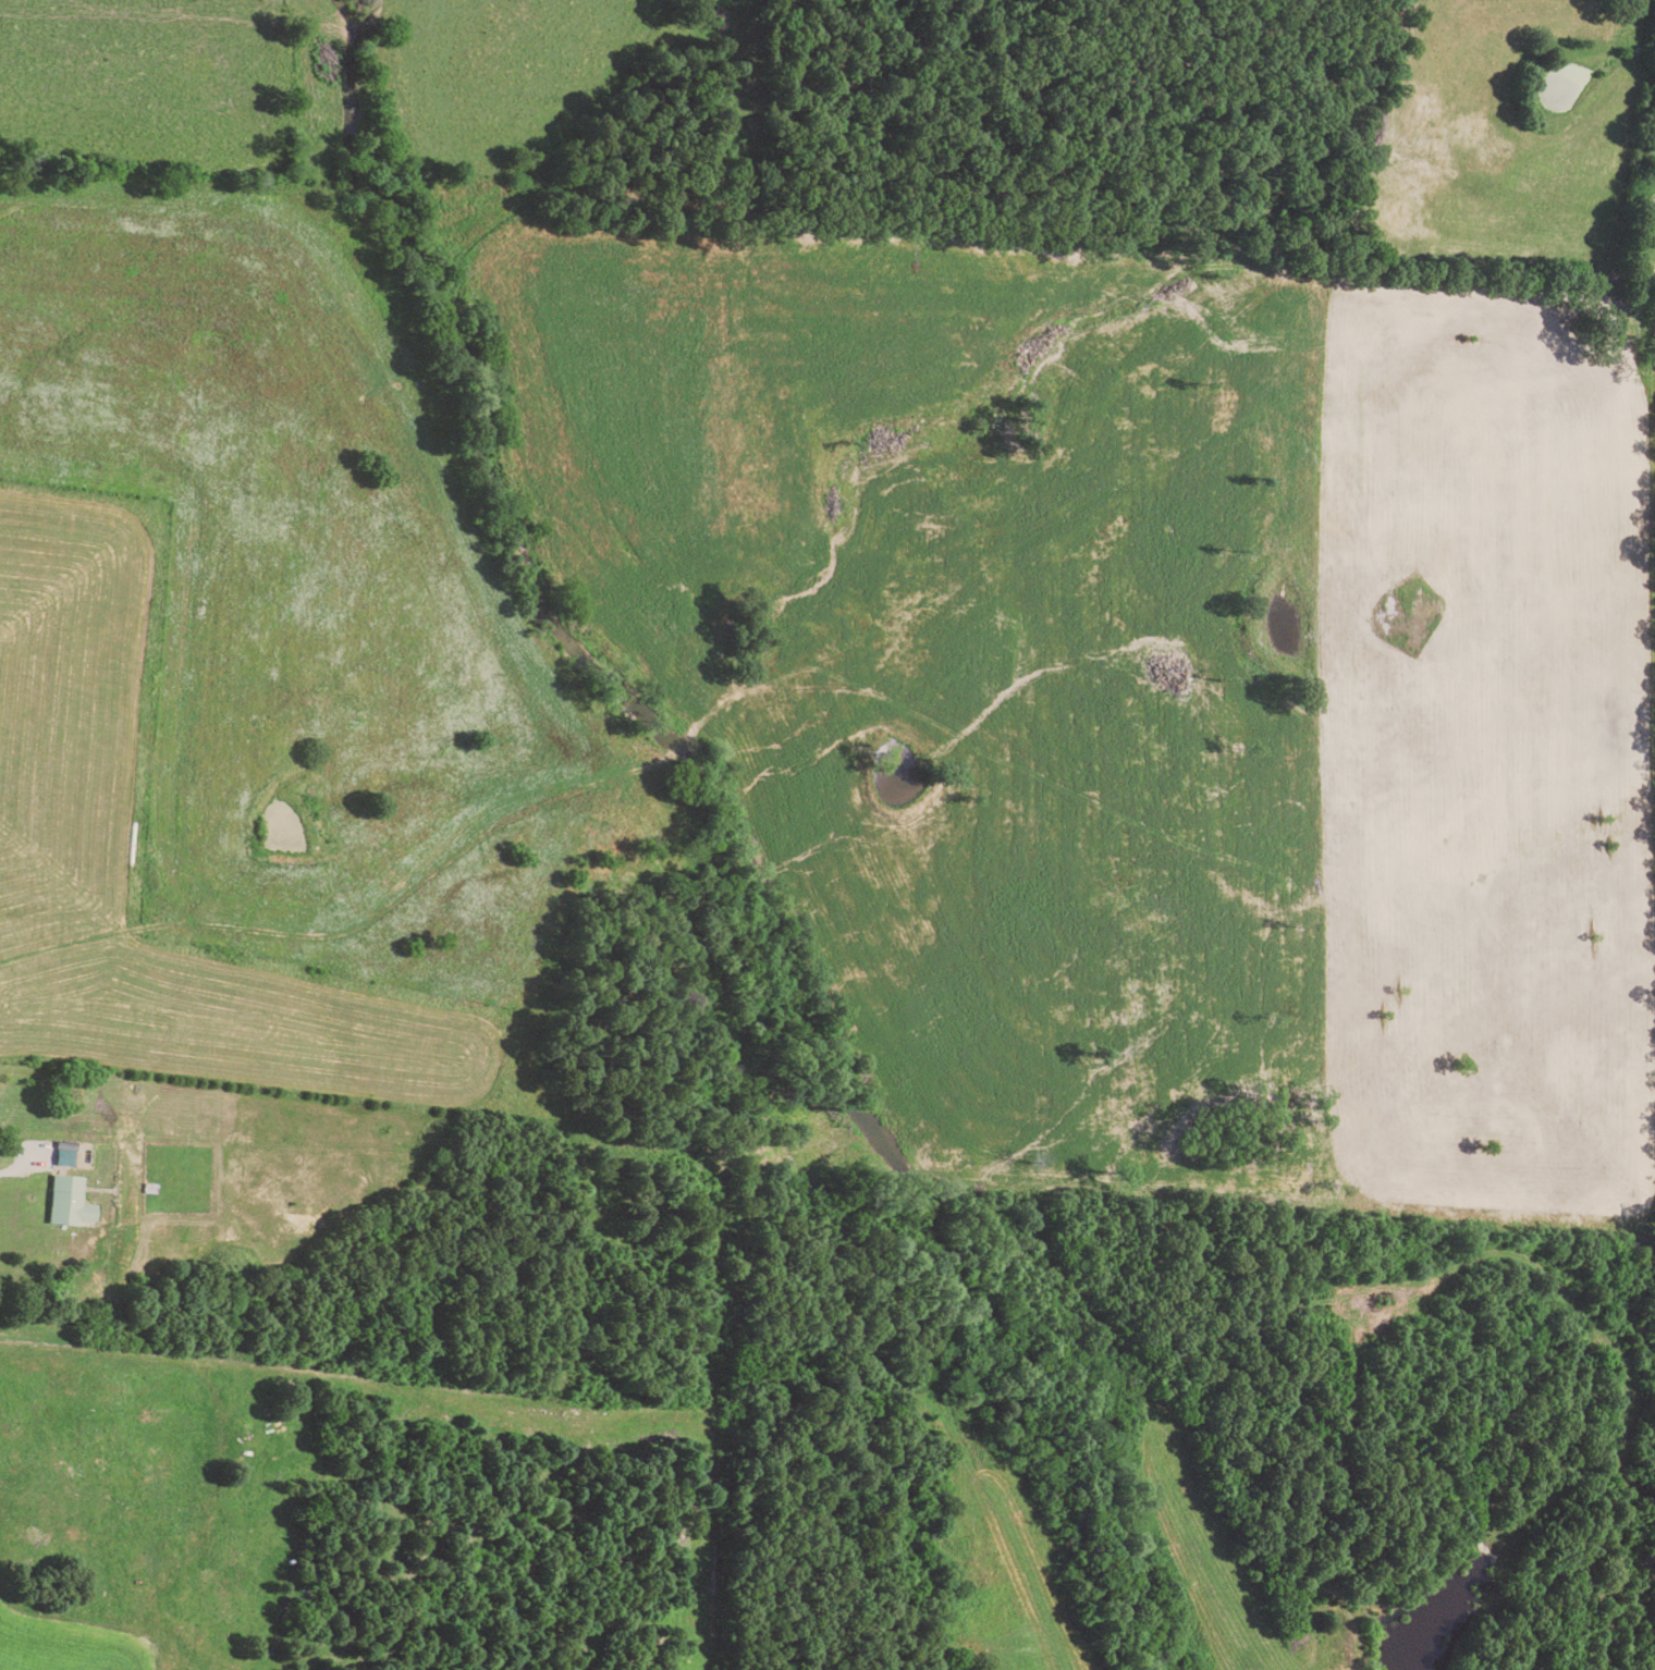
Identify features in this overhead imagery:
building: (65, 1202)

